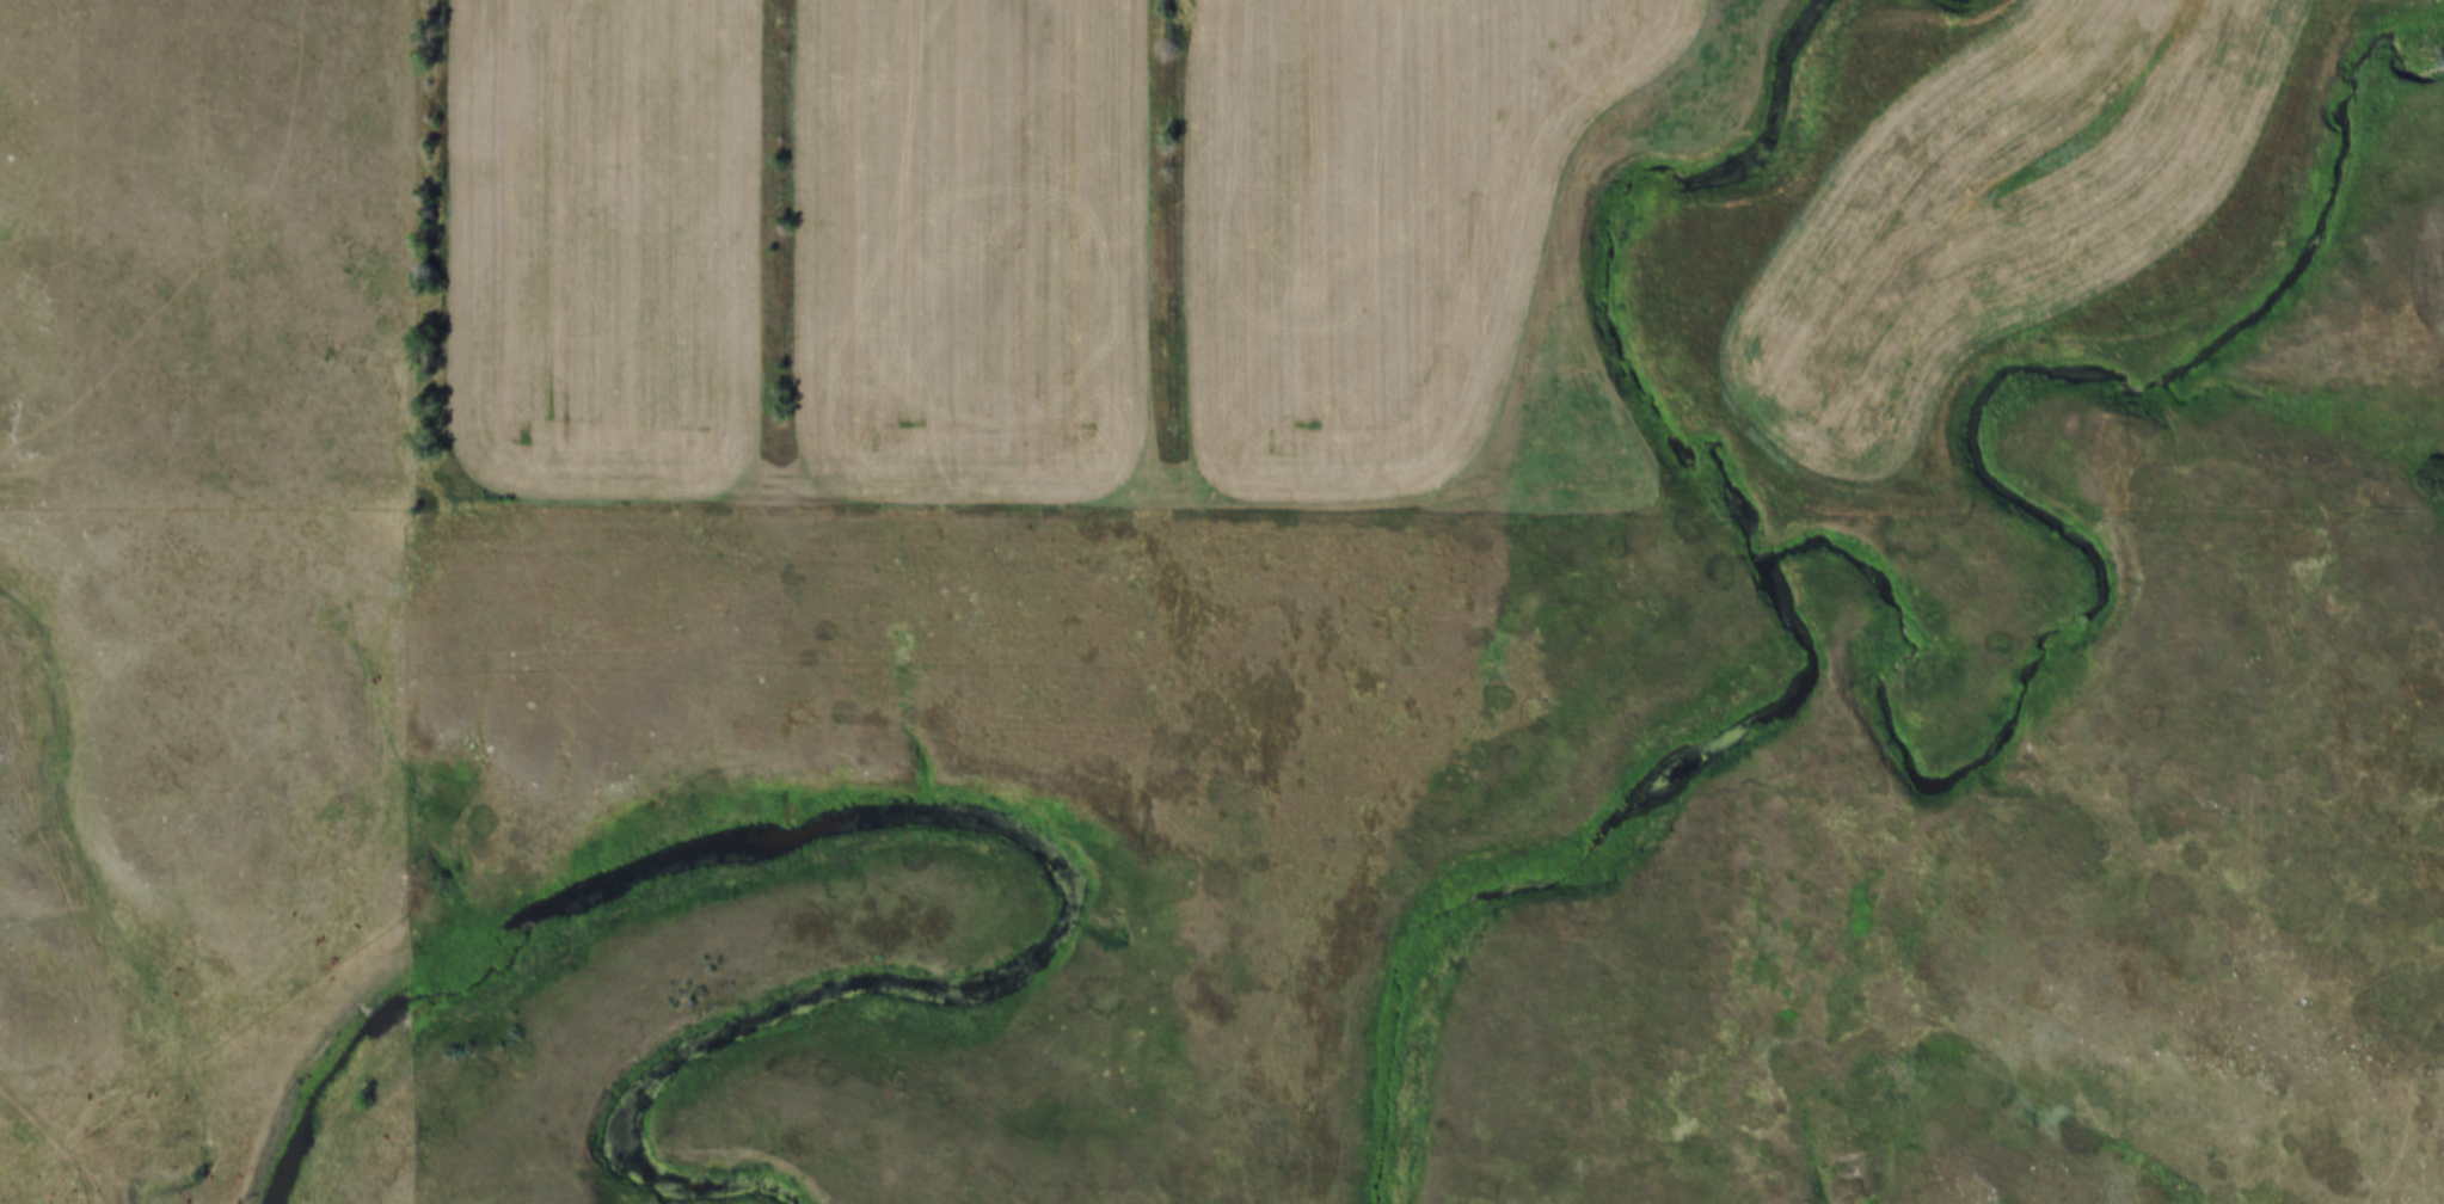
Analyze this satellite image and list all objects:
road: (2000, 29)

